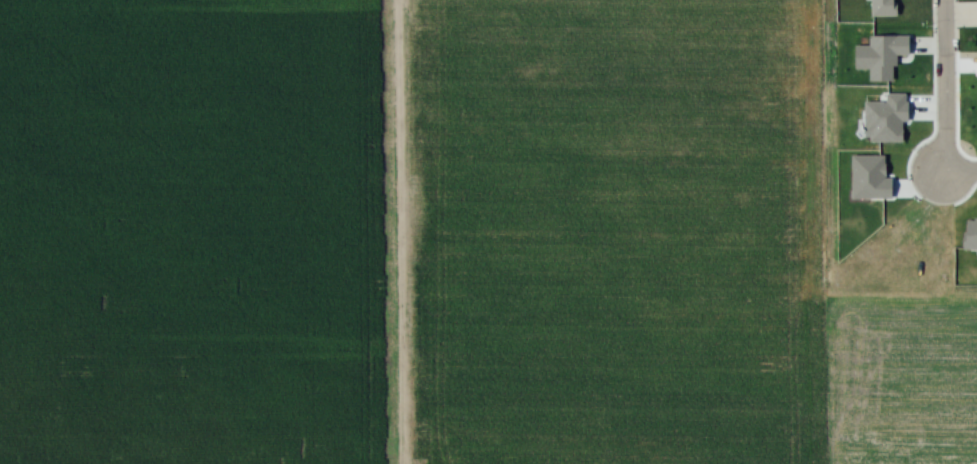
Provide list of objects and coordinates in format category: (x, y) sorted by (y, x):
building: (879, 8)
road: (955, 12)
road: (929, 43)
building: (876, 53)
road: (943, 86)
building: (880, 116)
road: (961, 172)
building: (865, 176)
crop: (188, 232)
building: (968, 235)

